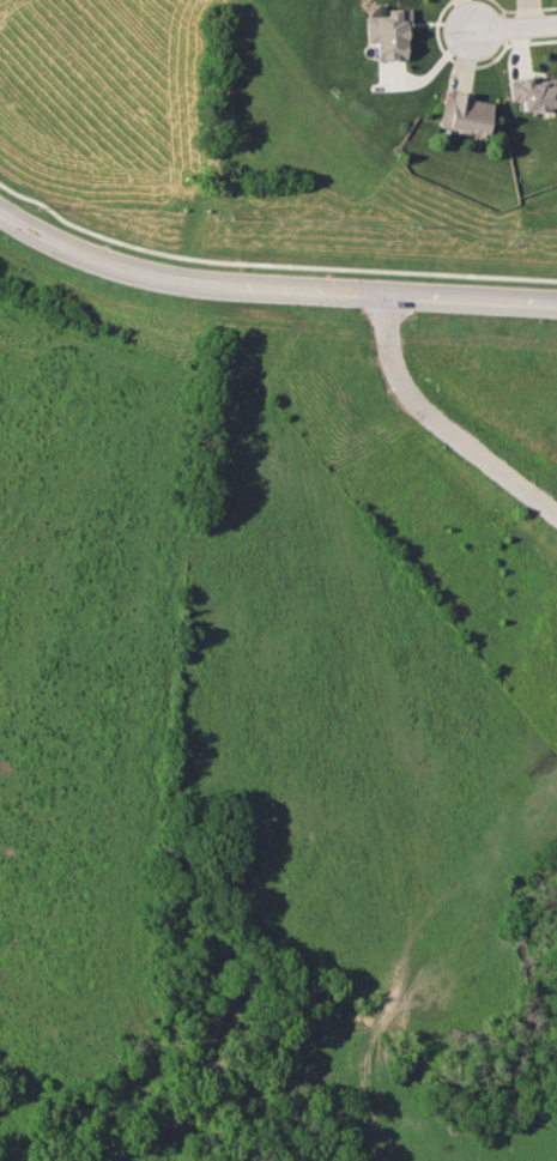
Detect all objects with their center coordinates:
road: (513, 24)
building: (388, 34)
building: (534, 92)
building: (465, 111)
road: (271, 286)
road: (436, 427)

